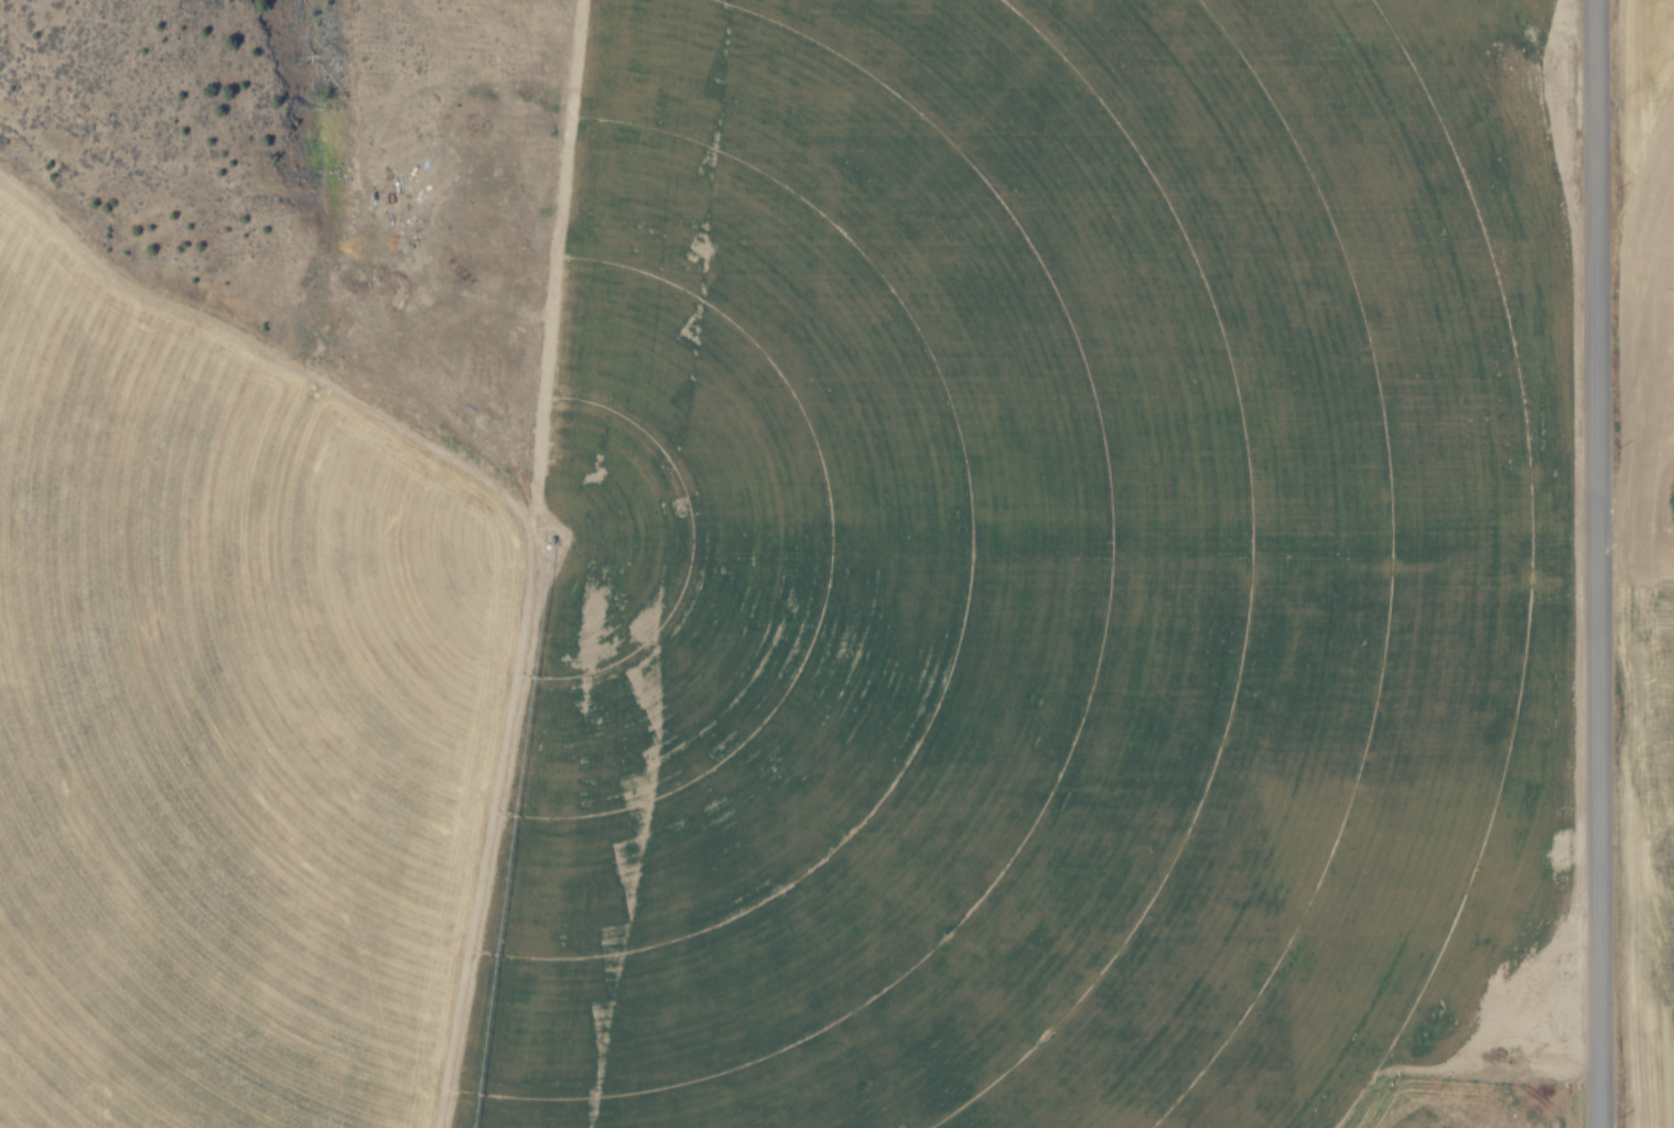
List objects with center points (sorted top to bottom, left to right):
crop: (746, 561)
road: (1594, 564)
crop: (1645, 593)

